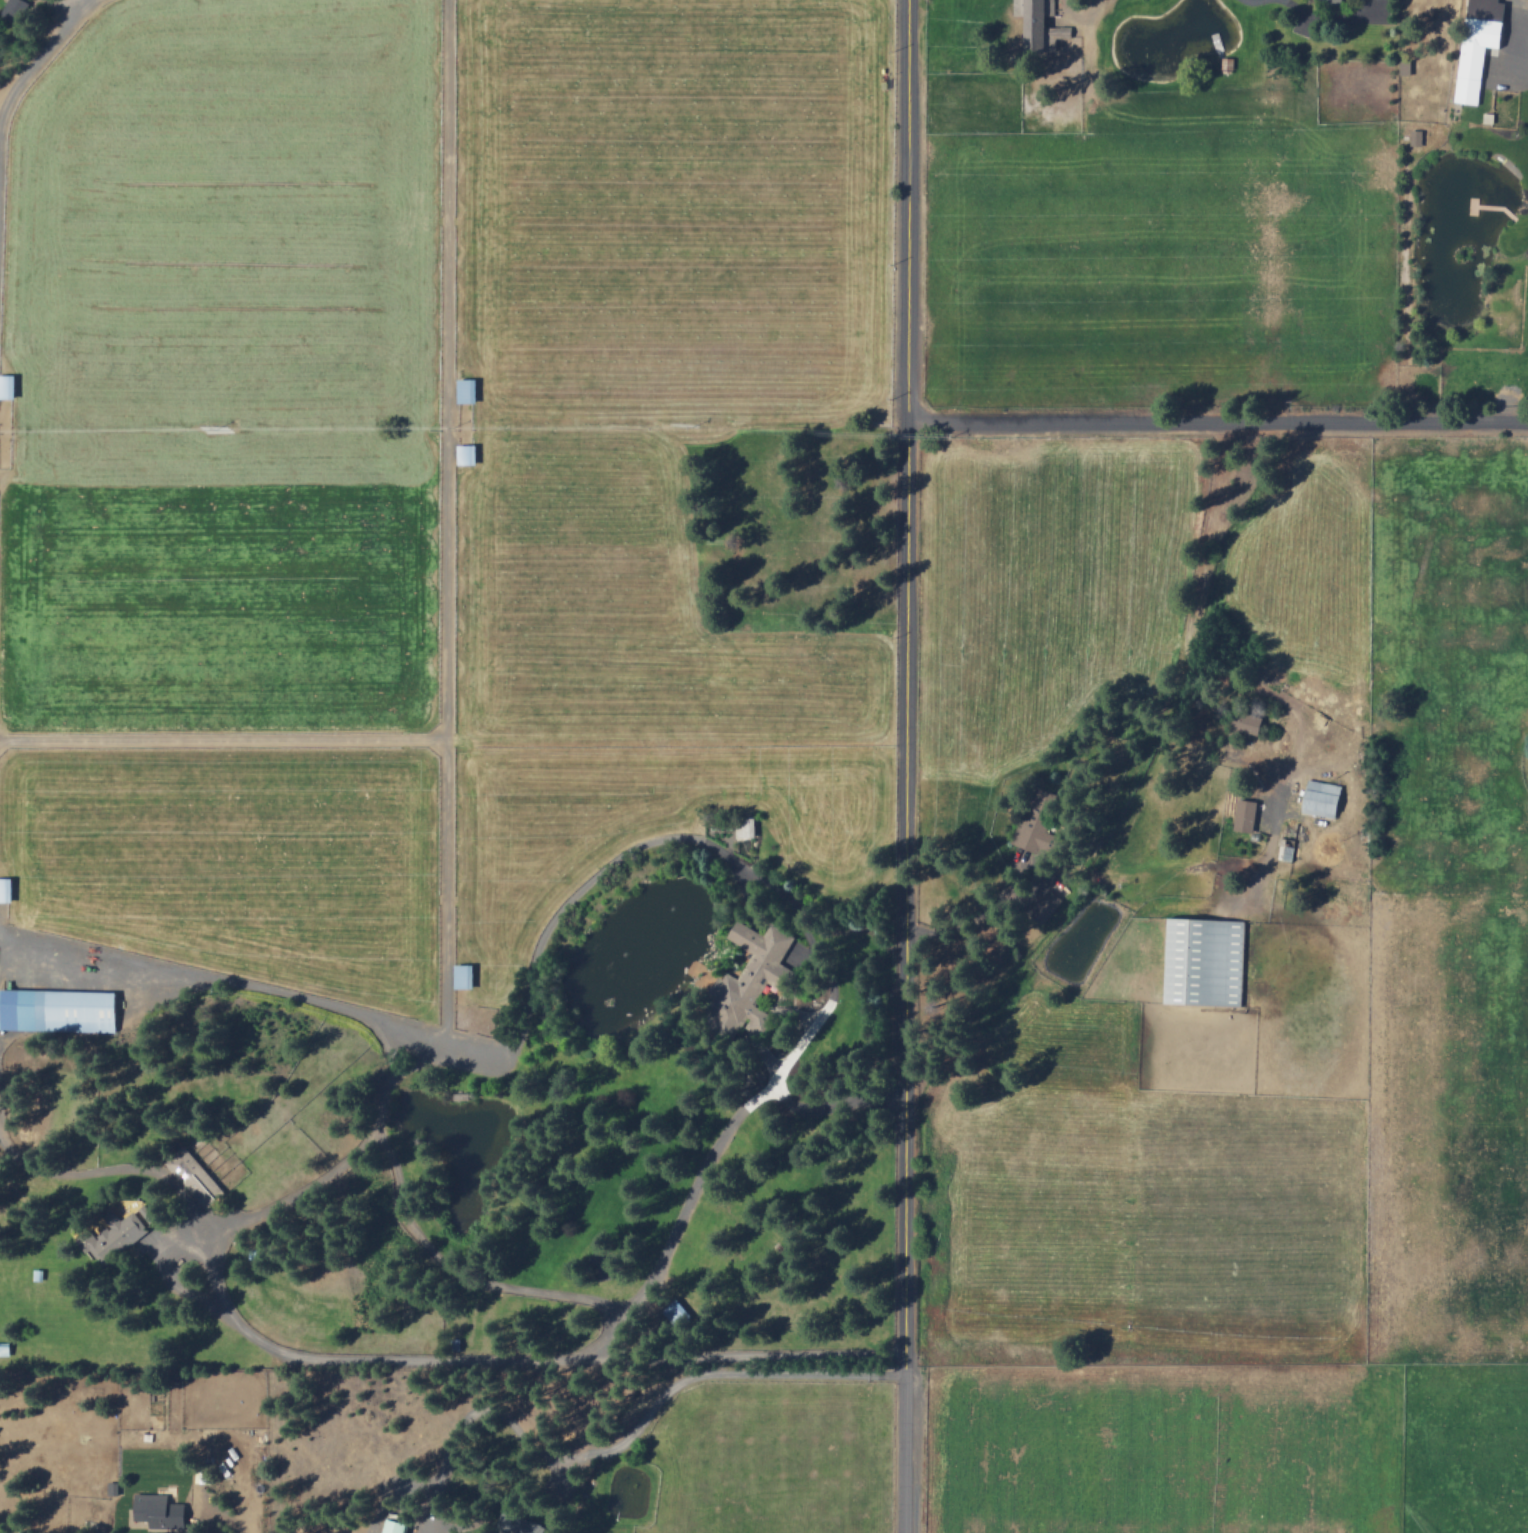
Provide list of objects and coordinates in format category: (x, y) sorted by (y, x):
building: (1332, 0)
building: (15, 9)
road: (62, 10)
building: (1040, 24)
building: (1479, 45)
building: (1416, 136)
crop: (1173, 303)
building: (7, 386)
road: (1220, 420)
building: (467, 454)
road: (912, 461)
crop: (428, 480)
building: (1323, 797)
building: (1246, 814)
building: (746, 825)
building: (6, 888)
building: (1049, 900)
road: (979, 909)
building: (1205, 959)
building: (748, 972)
building: (464, 974)
road: (258, 988)
building: (57, 1009)
crop: (1243, 1113)
road: (709, 1164)
building: (194, 1176)
road: (905, 1227)
building: (112, 1236)
road: (463, 1266)
building: (678, 1312)
road: (373, 1353)
road: (716, 1372)
building: (113, 1487)
building: (160, 1511)
building: (518, 1524)
building: (396, 1526)

